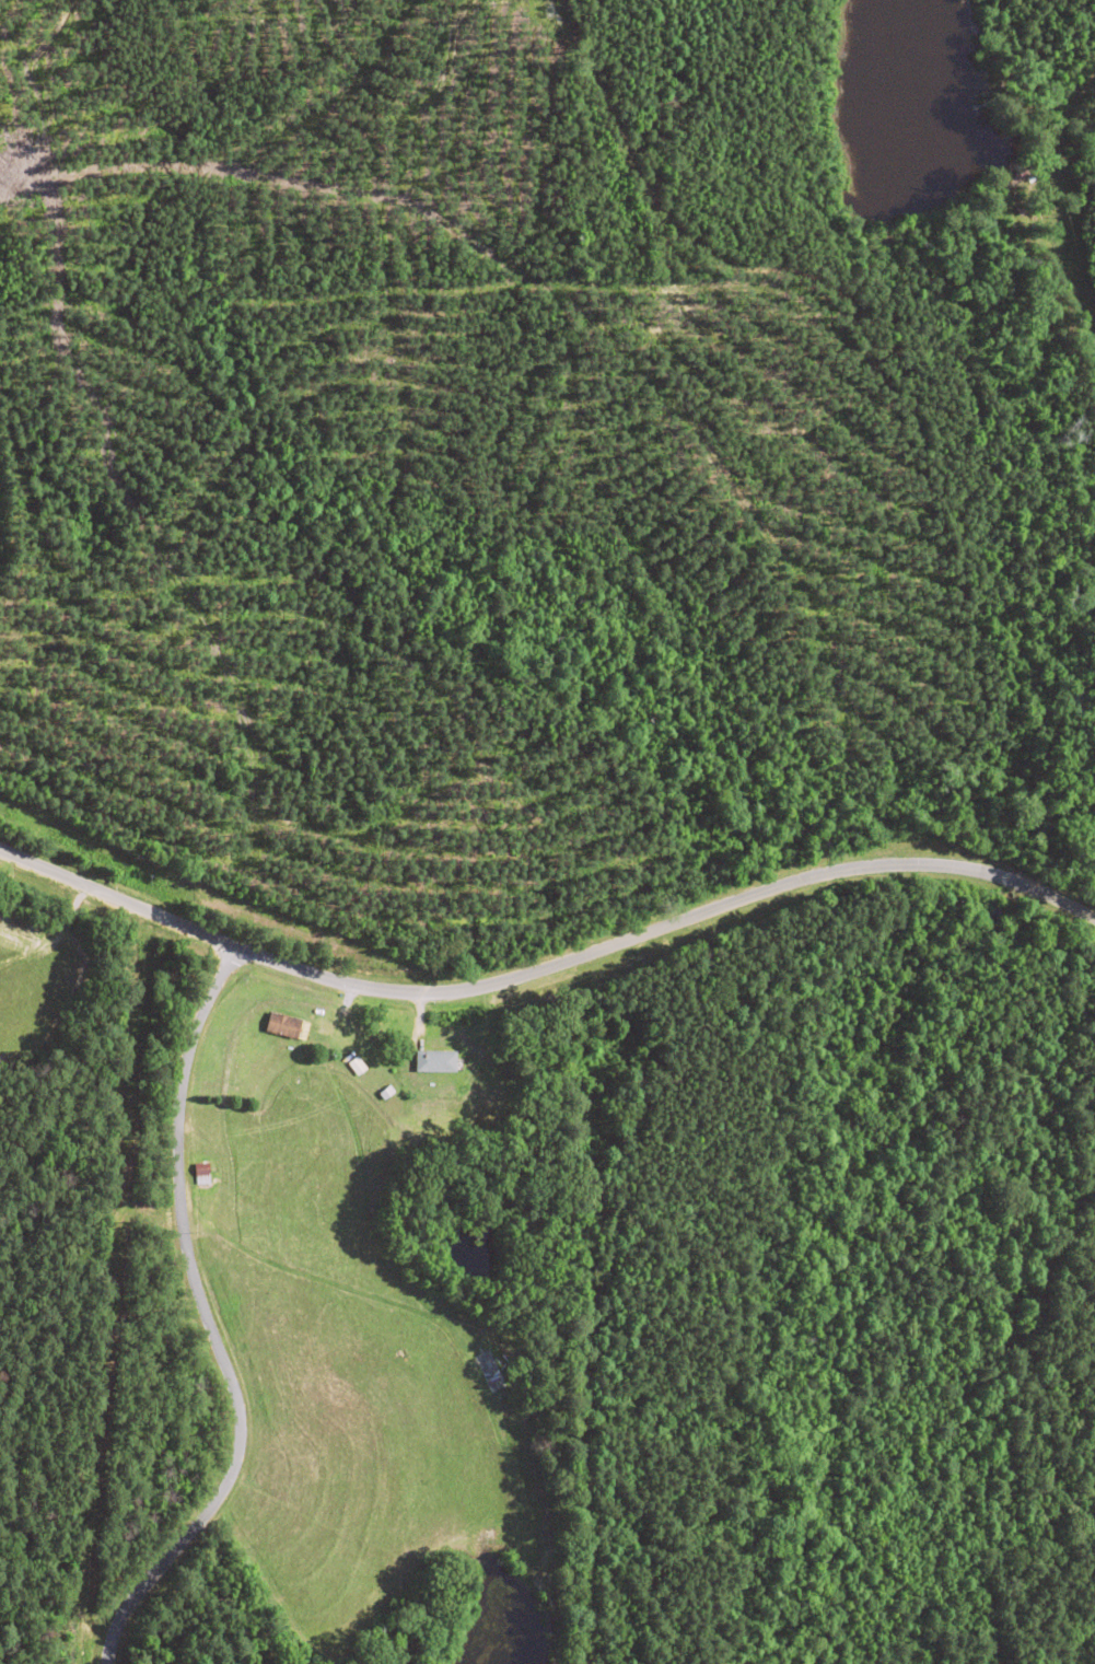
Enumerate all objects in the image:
road: (1068, 316)
road: (549, 1000)
building: (281, 1026)
building: (432, 1061)
building: (206, 1175)
road: (205, 1337)

